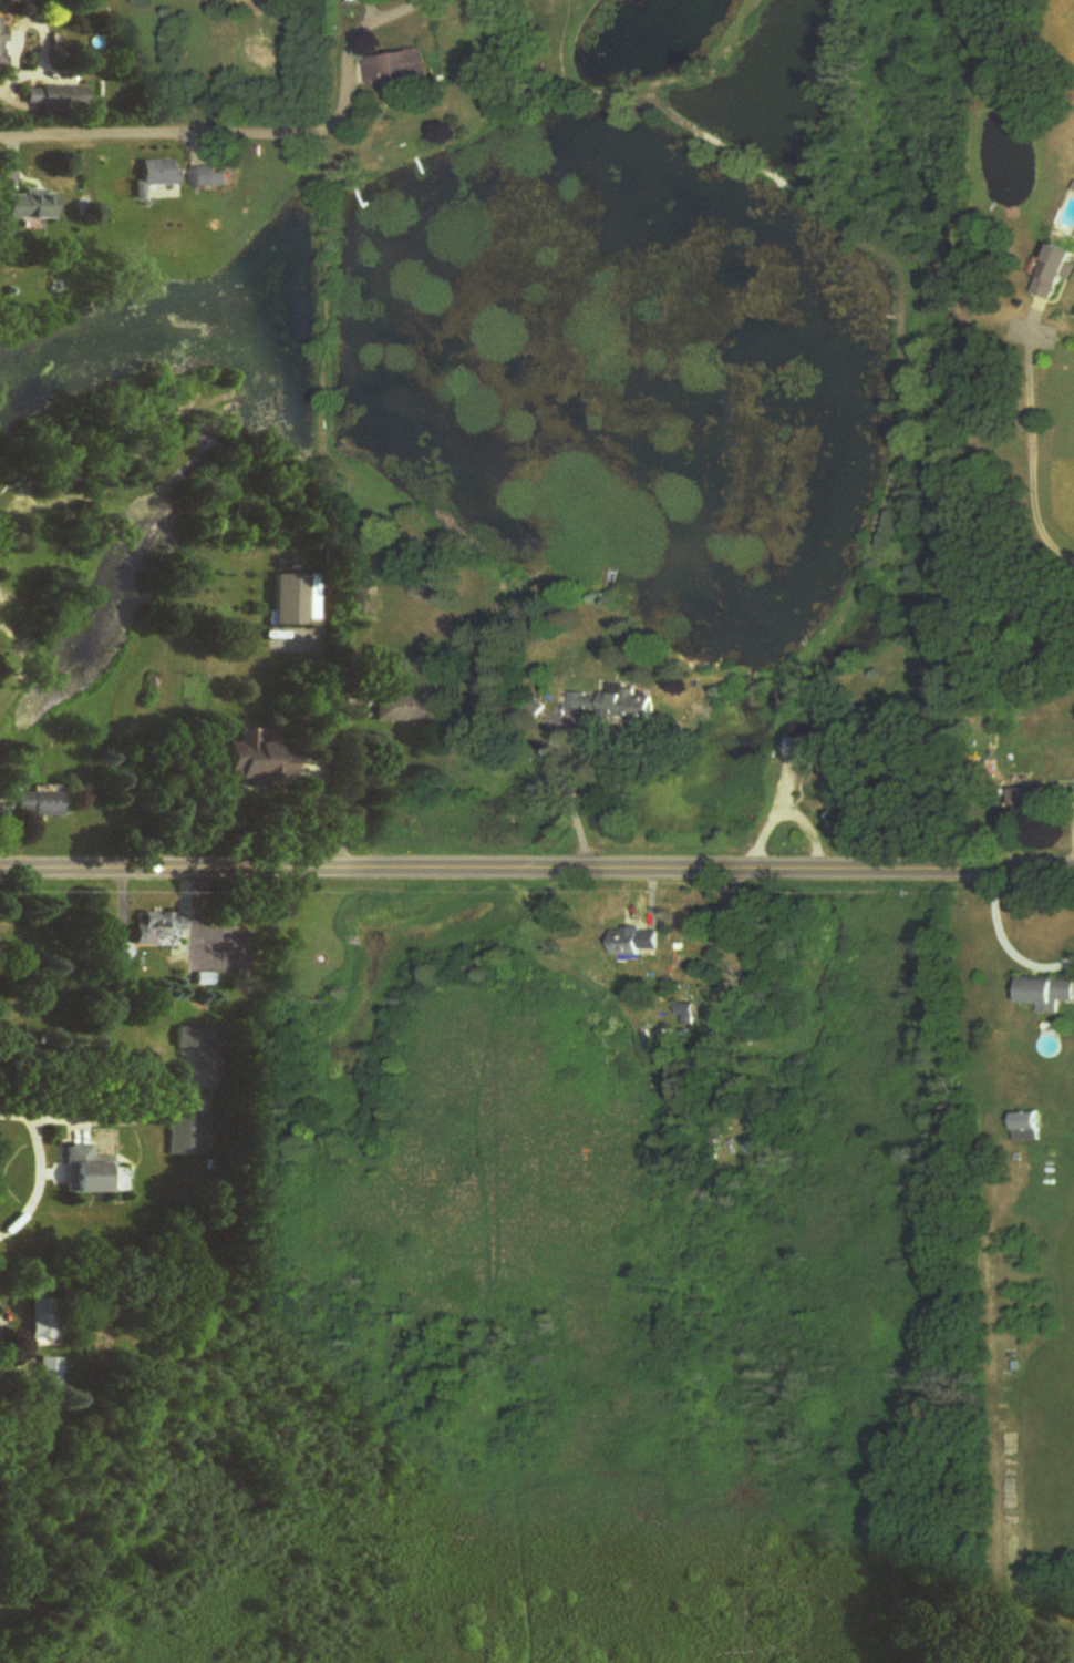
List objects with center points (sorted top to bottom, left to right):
building: (3, 43)
building: (400, 70)
road: (9, 82)
building: (56, 99)
road: (261, 134)
building: (162, 173)
building: (30, 206)
building: (1055, 274)
road: (1029, 459)
building: (361, 598)
building: (292, 600)
building: (617, 705)
building: (534, 708)
building: (409, 709)
building: (809, 749)
building: (260, 761)
road: (344, 770)
road: (566, 791)
building: (1027, 803)
building: (39, 804)
road: (321, 809)
road: (767, 820)
road: (807, 828)
road: (537, 866)
building: (161, 930)
road: (1005, 941)
building: (636, 943)
building: (121, 954)
building: (1047, 994)
building: (686, 1013)
building: (202, 1038)
building: (1027, 1128)
building: (189, 1133)
road: (38, 1167)
building: (90, 1172)
building: (45, 1318)

